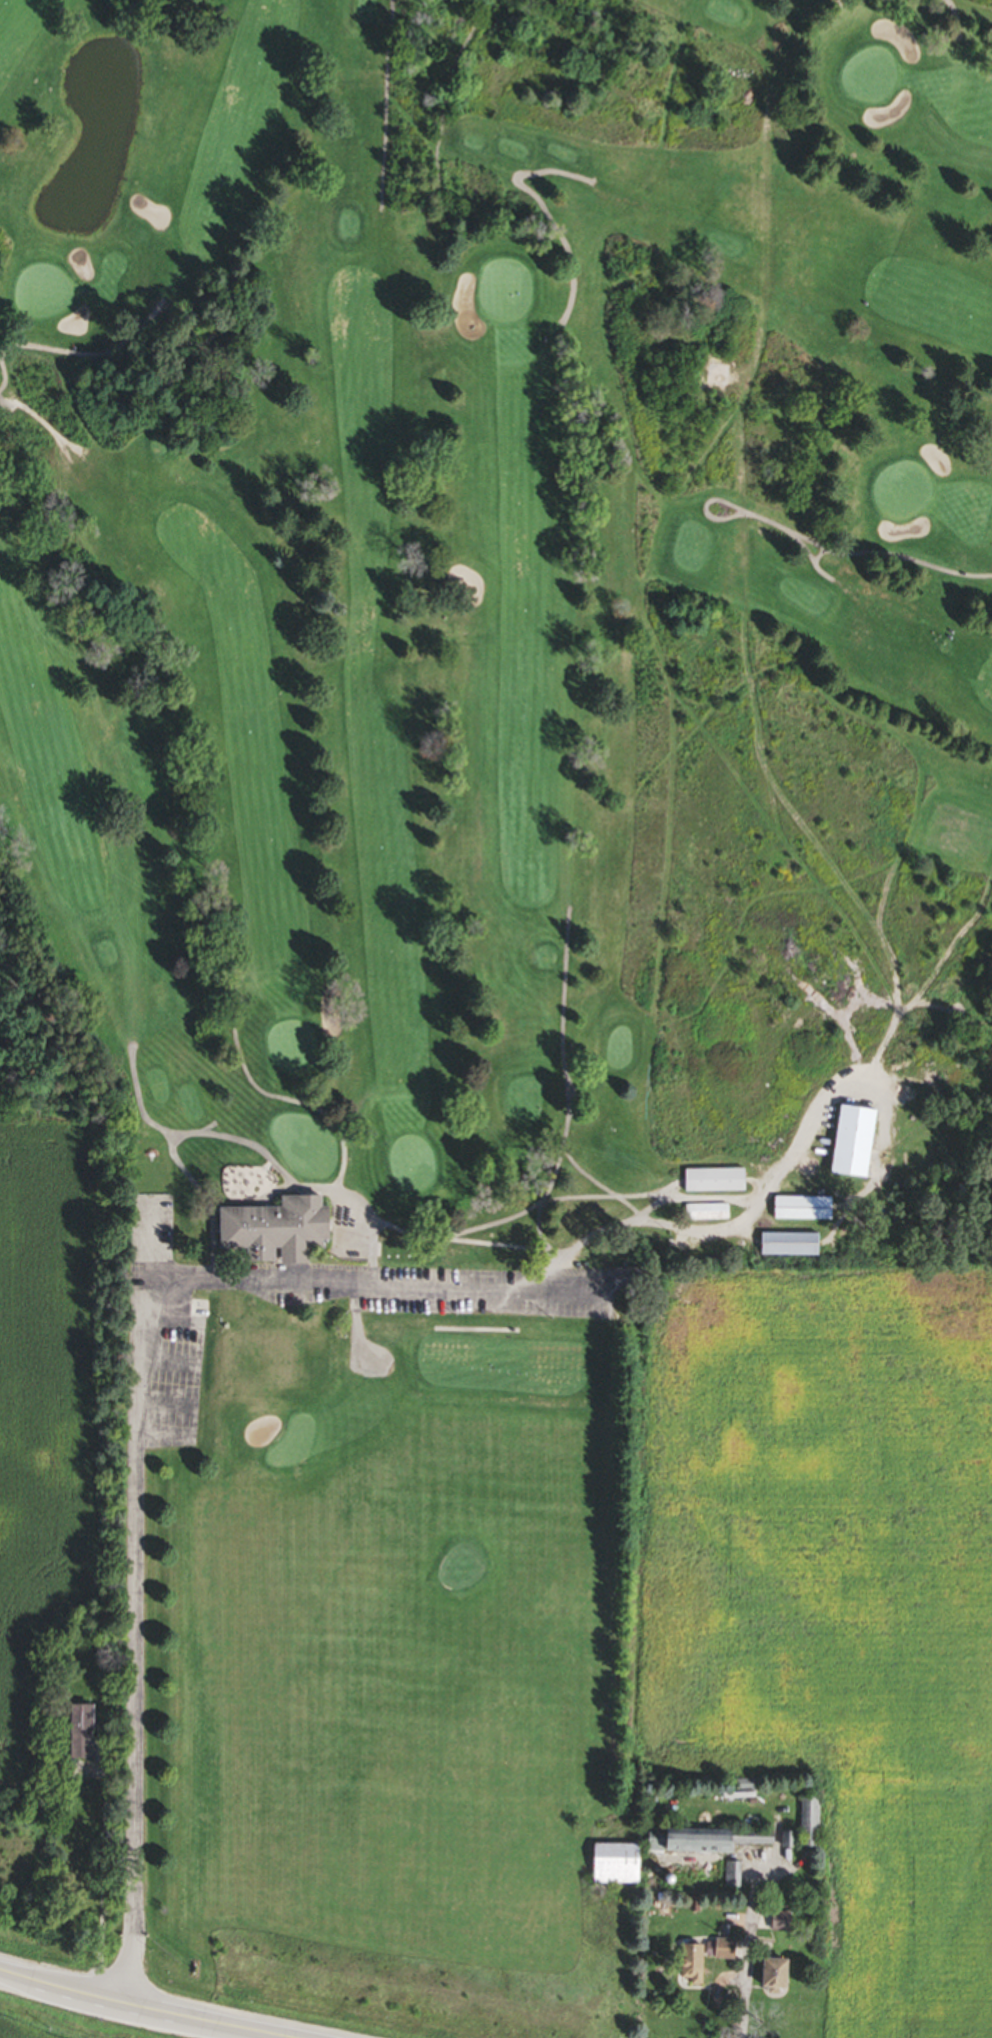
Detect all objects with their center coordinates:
road: (955, 17)
road: (389, 106)
road: (544, 214)
road: (67, 355)
road: (755, 518)
park: (480, 886)
building: (848, 1144)
road: (556, 1173)
building: (711, 1182)
road: (303, 1191)
road: (605, 1199)
road: (625, 1205)
building: (800, 1209)
building: (705, 1214)
road: (346, 1225)
building: (270, 1232)
building: (787, 1246)
road: (372, 1252)
road: (547, 1253)
road: (551, 1273)
road: (373, 1285)
building: (624, 1285)
road: (477, 1333)
road: (360, 1352)
building: (262, 1355)
road: (132, 1595)
building: (77, 1734)
building: (806, 1824)
building: (701, 1842)
building: (603, 1868)
building: (732, 1877)
building: (779, 1924)
building: (722, 1952)
building: (689, 1967)
road: (742, 1977)
building: (769, 1977)
road: (142, 2009)

